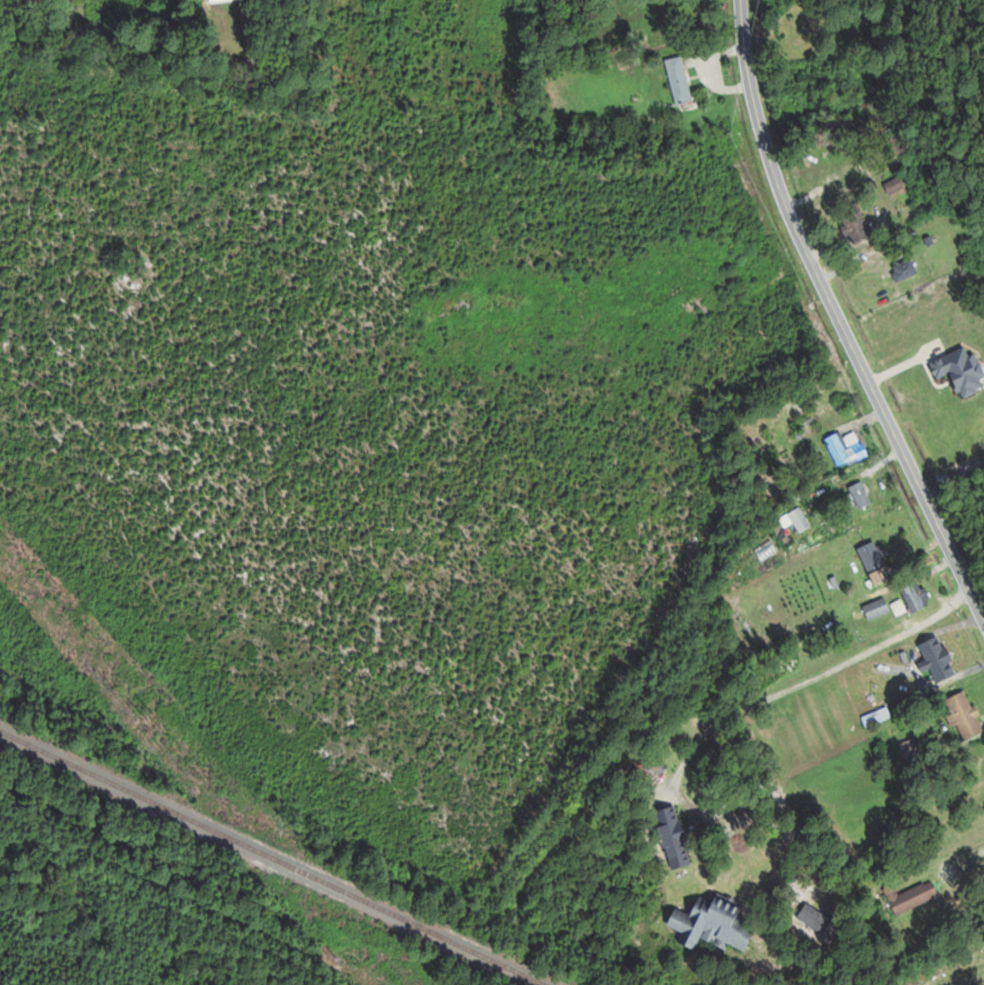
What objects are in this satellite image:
building: (218, 0)
building: (682, 81)
building: (897, 185)
building: (859, 225)
building: (907, 270)
road: (839, 312)
building: (849, 449)
building: (863, 494)
building: (876, 557)
building: (919, 596)
building: (879, 608)
building: (944, 655)
building: (884, 667)
road: (790, 683)
building: (891, 685)
building: (966, 714)
power tower: (156, 717)
building: (873, 717)
building: (651, 765)
building: (677, 837)
railway: (274, 856)
building: (913, 896)
building: (818, 918)
building: (717, 923)

